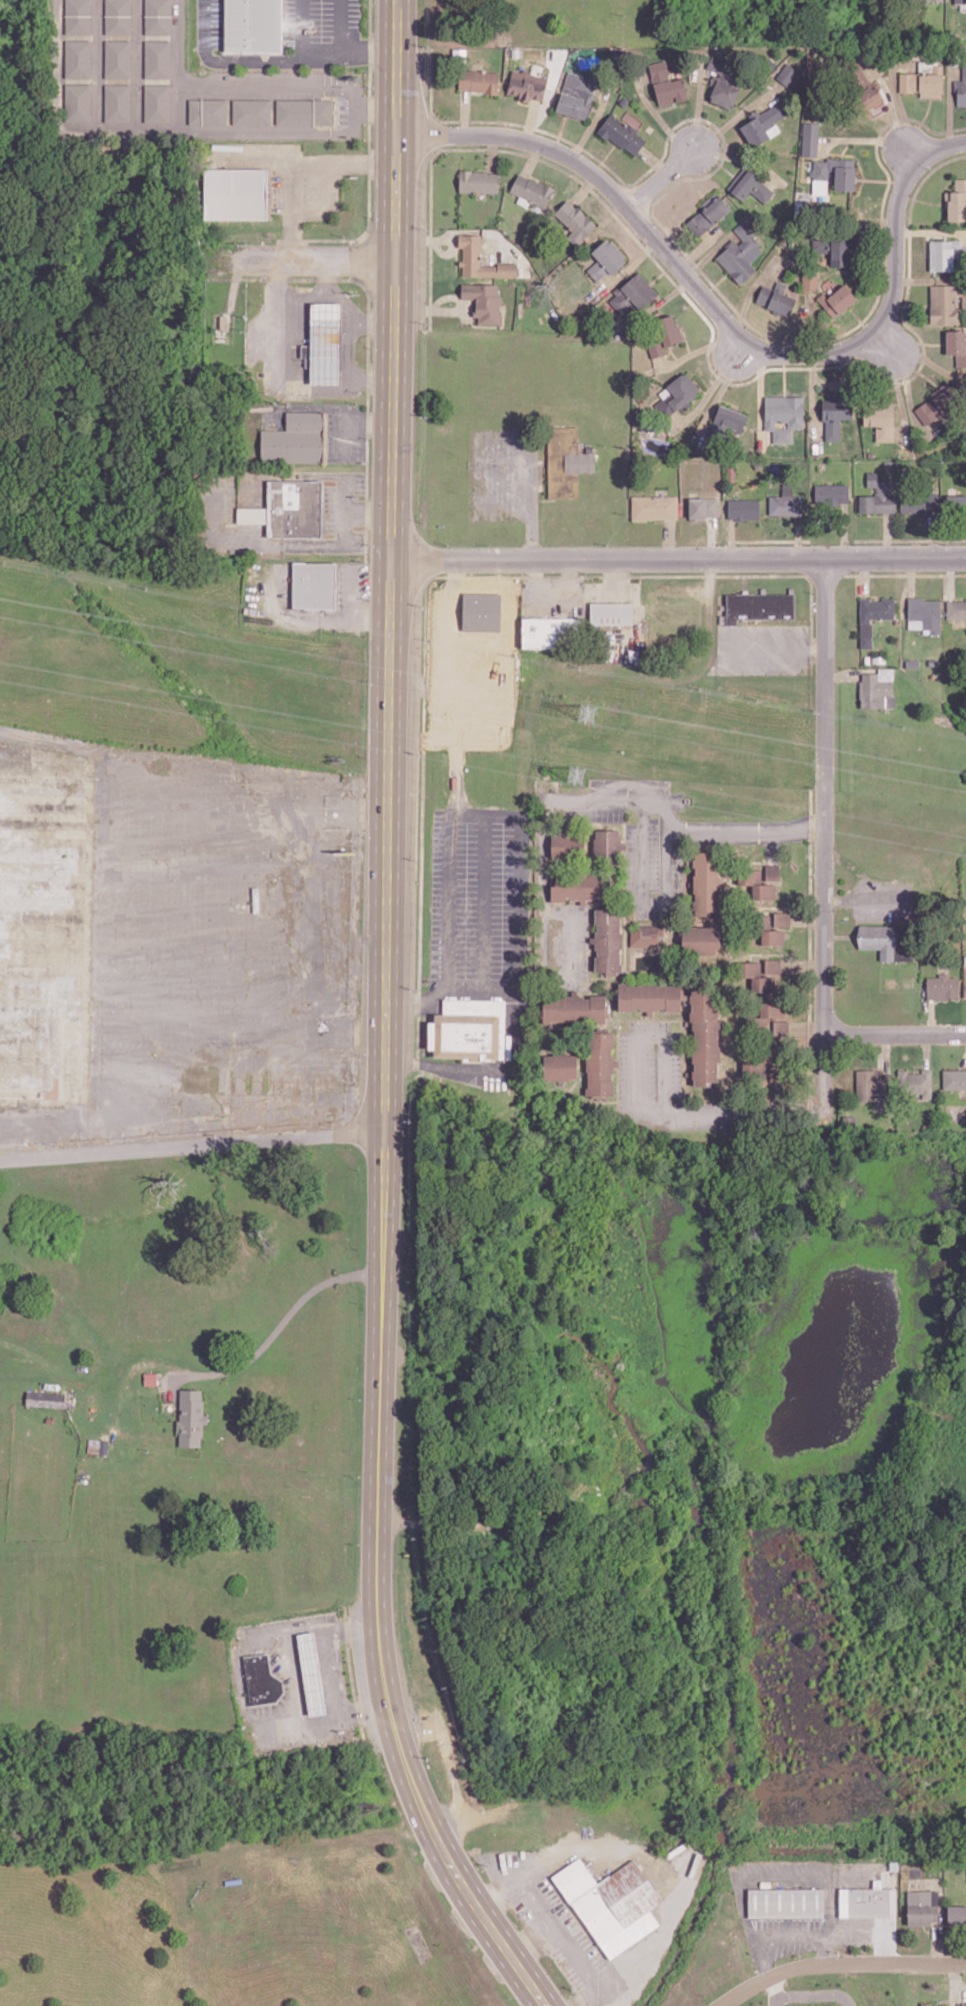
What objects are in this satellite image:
building: (961, 1)
building: (78, 16)
building: (119, 17)
building: (159, 17)
road: (343, 25)
building: (261, 28)
road: (300, 32)
building: (78, 59)
building: (120, 60)
building: (158, 60)
road: (274, 65)
building: (788, 73)
building: (726, 80)
building: (924, 82)
building: (482, 84)
building: (668, 84)
building: (862, 86)
building: (961, 87)
building: (530, 90)
building: (579, 97)
building: (79, 103)
building: (119, 103)
building: (159, 105)
building: (210, 112)
building: (254, 113)
building: (307, 114)
road: (464, 115)
road: (531, 122)
building: (763, 123)
building: (622, 133)
building: (811, 138)
road: (493, 153)
road: (532, 159)
road: (300, 166)
building: (837, 171)
road: (662, 178)
building: (483, 183)
building: (751, 184)
building: (533, 190)
road: (584, 190)
building: (239, 196)
building: (957, 200)
building: (709, 213)
building: (576, 221)
building: (837, 245)
building: (742, 252)
building: (947, 254)
building: (472, 256)
road: (310, 257)
building: (607, 259)
road: (394, 280)
building: (811, 281)
road: (296, 290)
building: (778, 298)
building: (838, 299)
road: (342, 300)
building: (638, 300)
building: (485, 301)
building: (947, 303)
road: (723, 316)
building: (666, 335)
building: (330, 345)
building: (958, 345)
road: (280, 375)
building: (679, 395)
building: (938, 402)
building: (837, 414)
building: (784, 415)
building: (881, 420)
building: (727, 422)
building: (299, 440)
building: (567, 461)
building: (832, 493)
building: (878, 495)
building: (921, 500)
building: (786, 502)
building: (957, 503)
building: (655, 506)
building: (704, 507)
building: (744, 508)
building: (289, 509)
road: (678, 560)
road: (759, 574)
road: (746, 581)
building: (314, 585)
building: (759, 606)
building: (956, 609)
building: (479, 612)
building: (612, 613)
building: (927, 613)
building: (874, 616)
building: (551, 632)
parking lot: (763, 649)
road: (773, 649)
building: (876, 691)
power tower: (587, 714)
power tower: (579, 780)
road: (674, 830)
road: (824, 834)
road: (452, 842)
building: (569, 842)
building: (609, 845)
road: (672, 867)
building: (774, 872)
building: (707, 883)
building: (757, 884)
road: (544, 886)
building: (583, 886)
building: (255, 898)
road: (483, 917)
building: (783, 919)
building: (768, 930)
building: (646, 935)
building: (609, 939)
building: (702, 939)
building: (889, 940)
building: (773, 965)
building: (756, 975)
road: (513, 976)
building: (965, 980)
building: (943, 986)
road: (465, 988)
building: (650, 996)
building: (574, 1007)
building: (768, 1014)
building: (782, 1027)
building: (469, 1029)
road: (893, 1030)
building: (706, 1036)
building: (762, 1062)
building: (601, 1063)
building: (561, 1066)
building: (779, 1072)
building: (954, 1078)
building: (873, 1083)
building: (916, 1083)
road: (643, 1109)
road: (190, 1148)
road: (380, 1170)
building: (151, 1378)
building: (45, 1399)
building: (191, 1417)
building: (312, 1672)
road: (327, 1676)
road: (293, 1677)
road: (239, 1679)
building: (262, 1680)
road: (470, 1894)
building: (864, 1901)
building: (785, 1903)
building: (611, 1904)
building: (922, 1907)
building: (956, 1915)
road: (549, 1923)
road: (532, 1944)
road: (841, 1964)
road: (774, 1992)
road: (814, 1995)
building: (926, 2004)

